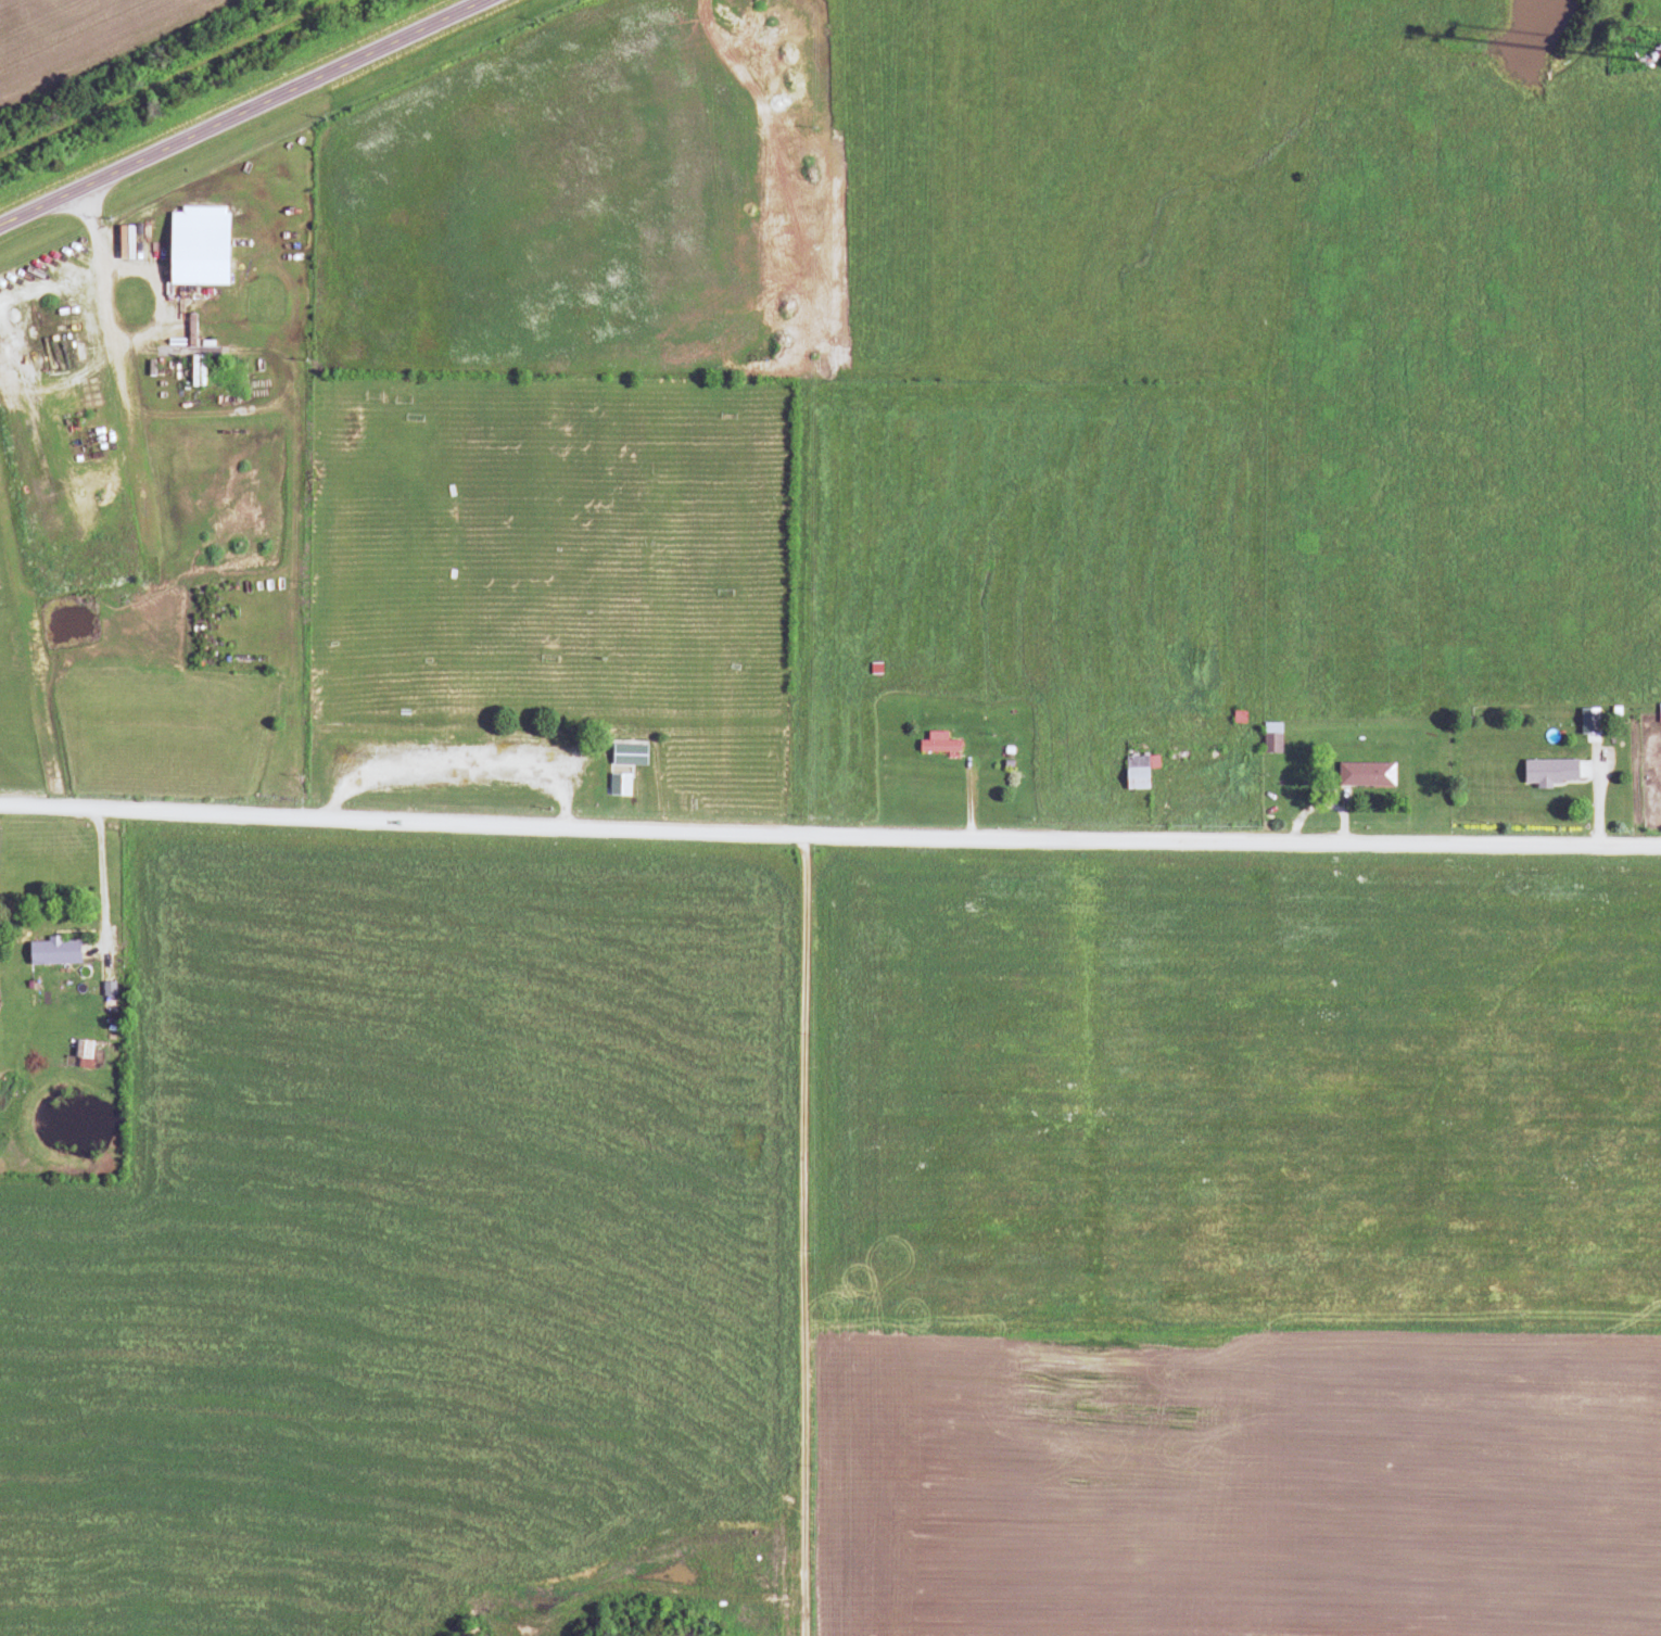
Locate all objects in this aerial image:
railway: (130, 60)
road: (241, 112)
building: (194, 251)
building: (1269, 738)
building: (935, 744)
building: (621, 765)
building: (1134, 769)
building: (1547, 772)
building: (1362, 774)
road: (829, 829)
road: (105, 885)
building: (50, 951)
building: (79, 1050)

